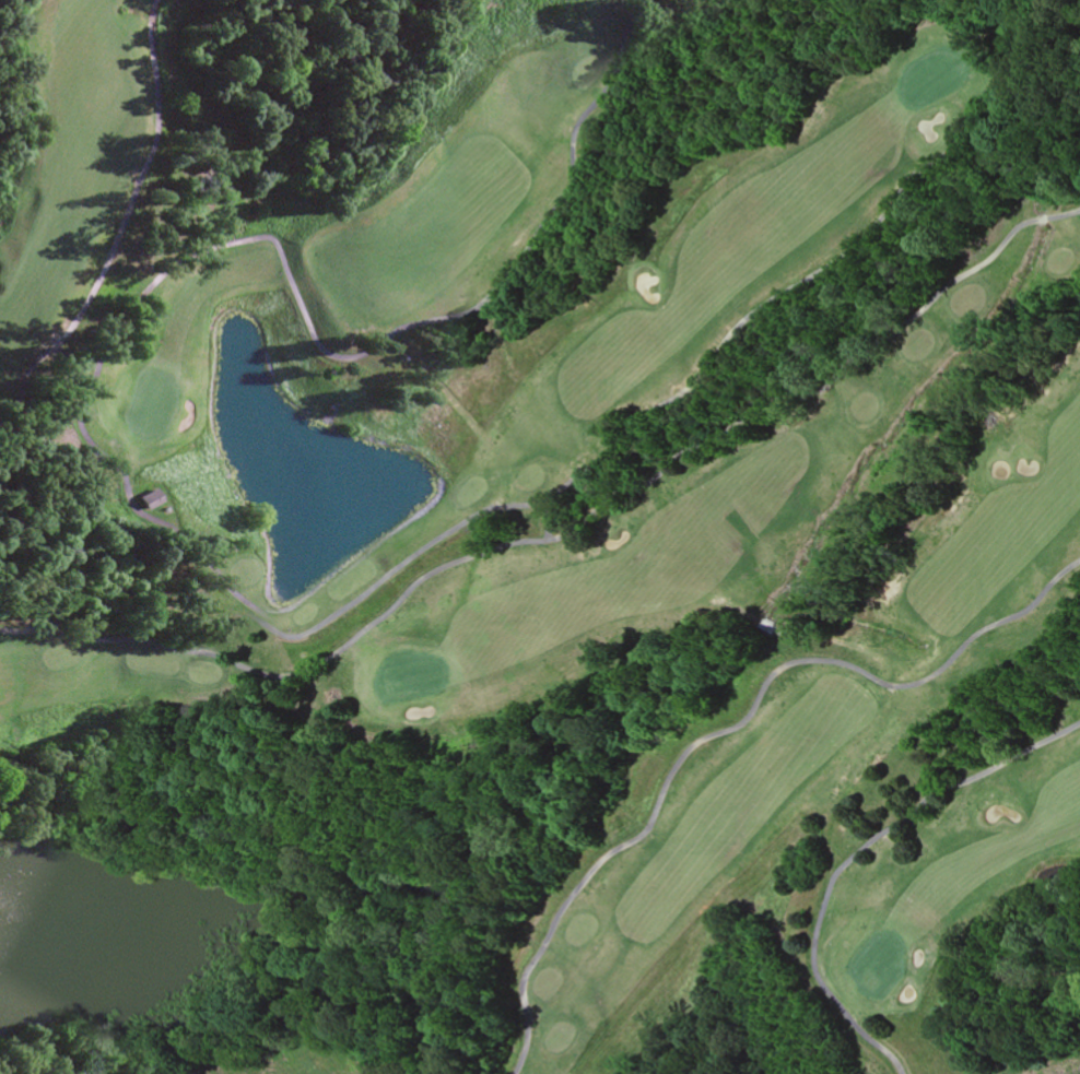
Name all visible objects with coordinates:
building: (146, 501)
park: (556, 521)
park: (551, 526)

